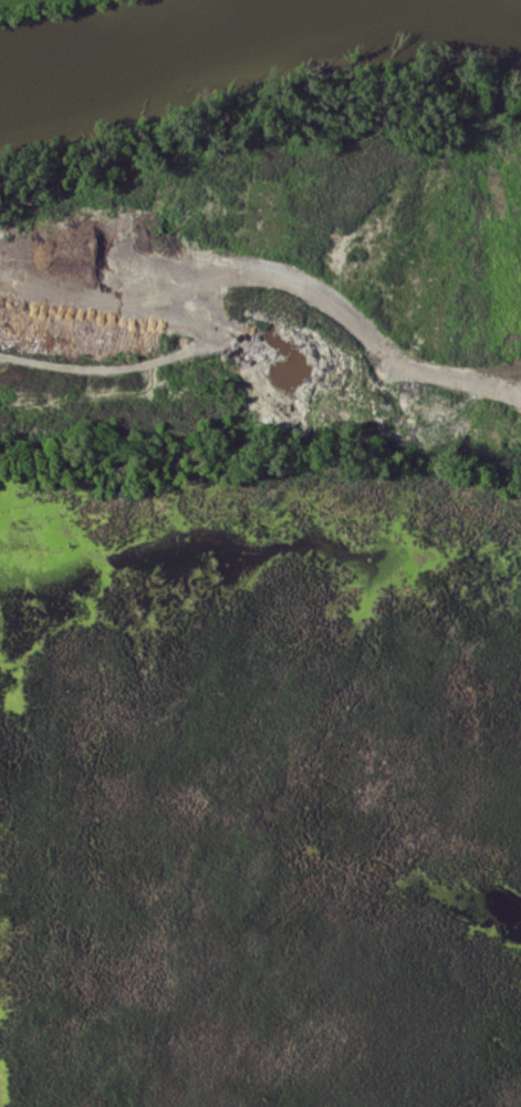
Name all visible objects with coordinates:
river: (480, 11)
river: (186, 29)
road: (269, 278)
road: (257, 344)
road: (116, 363)

